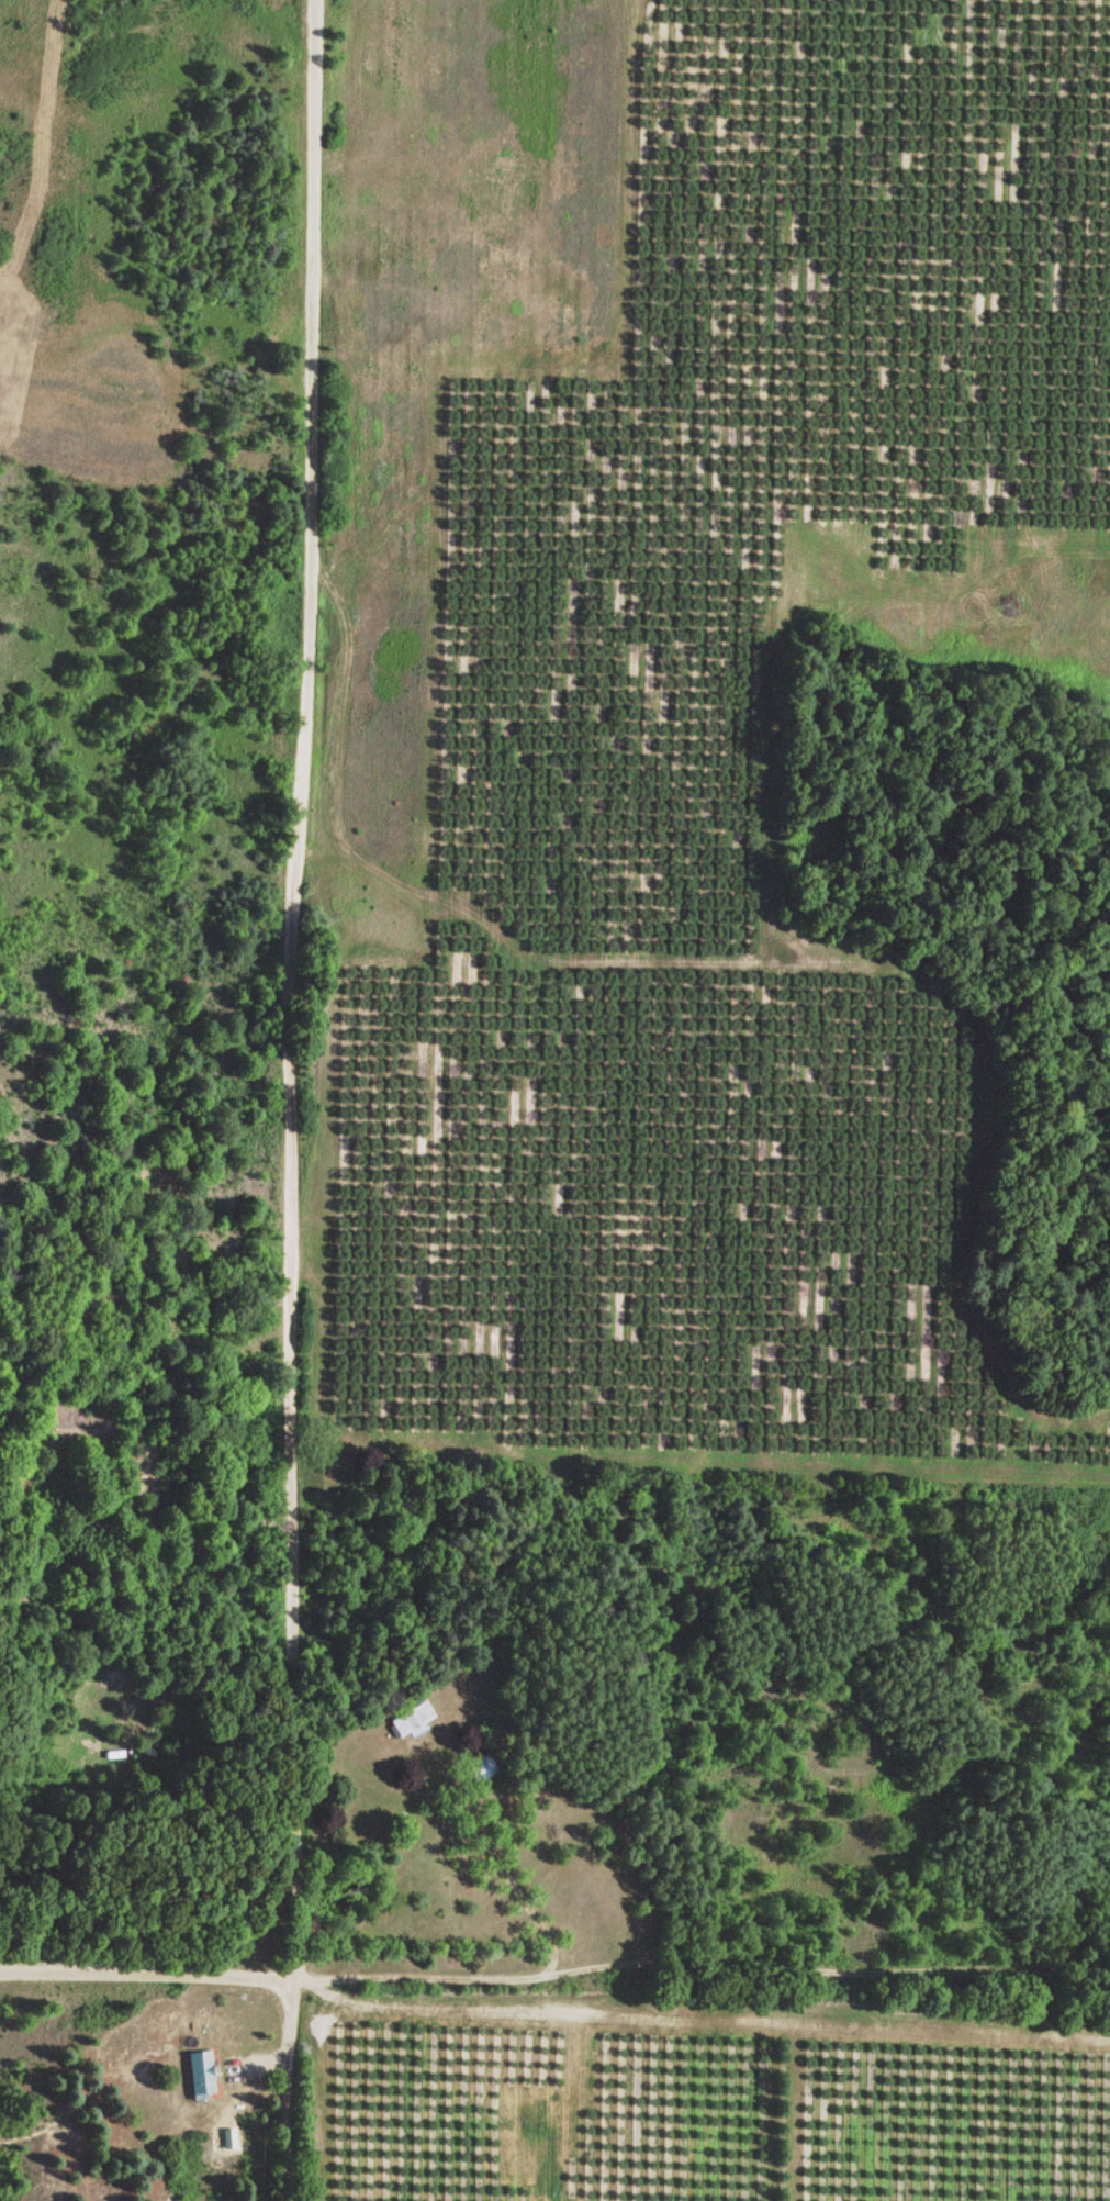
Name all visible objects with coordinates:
road: (300, 1100)
building: (411, 1719)
building: (481, 1769)
road: (475, 1875)
road: (553, 1956)
building: (200, 2076)

